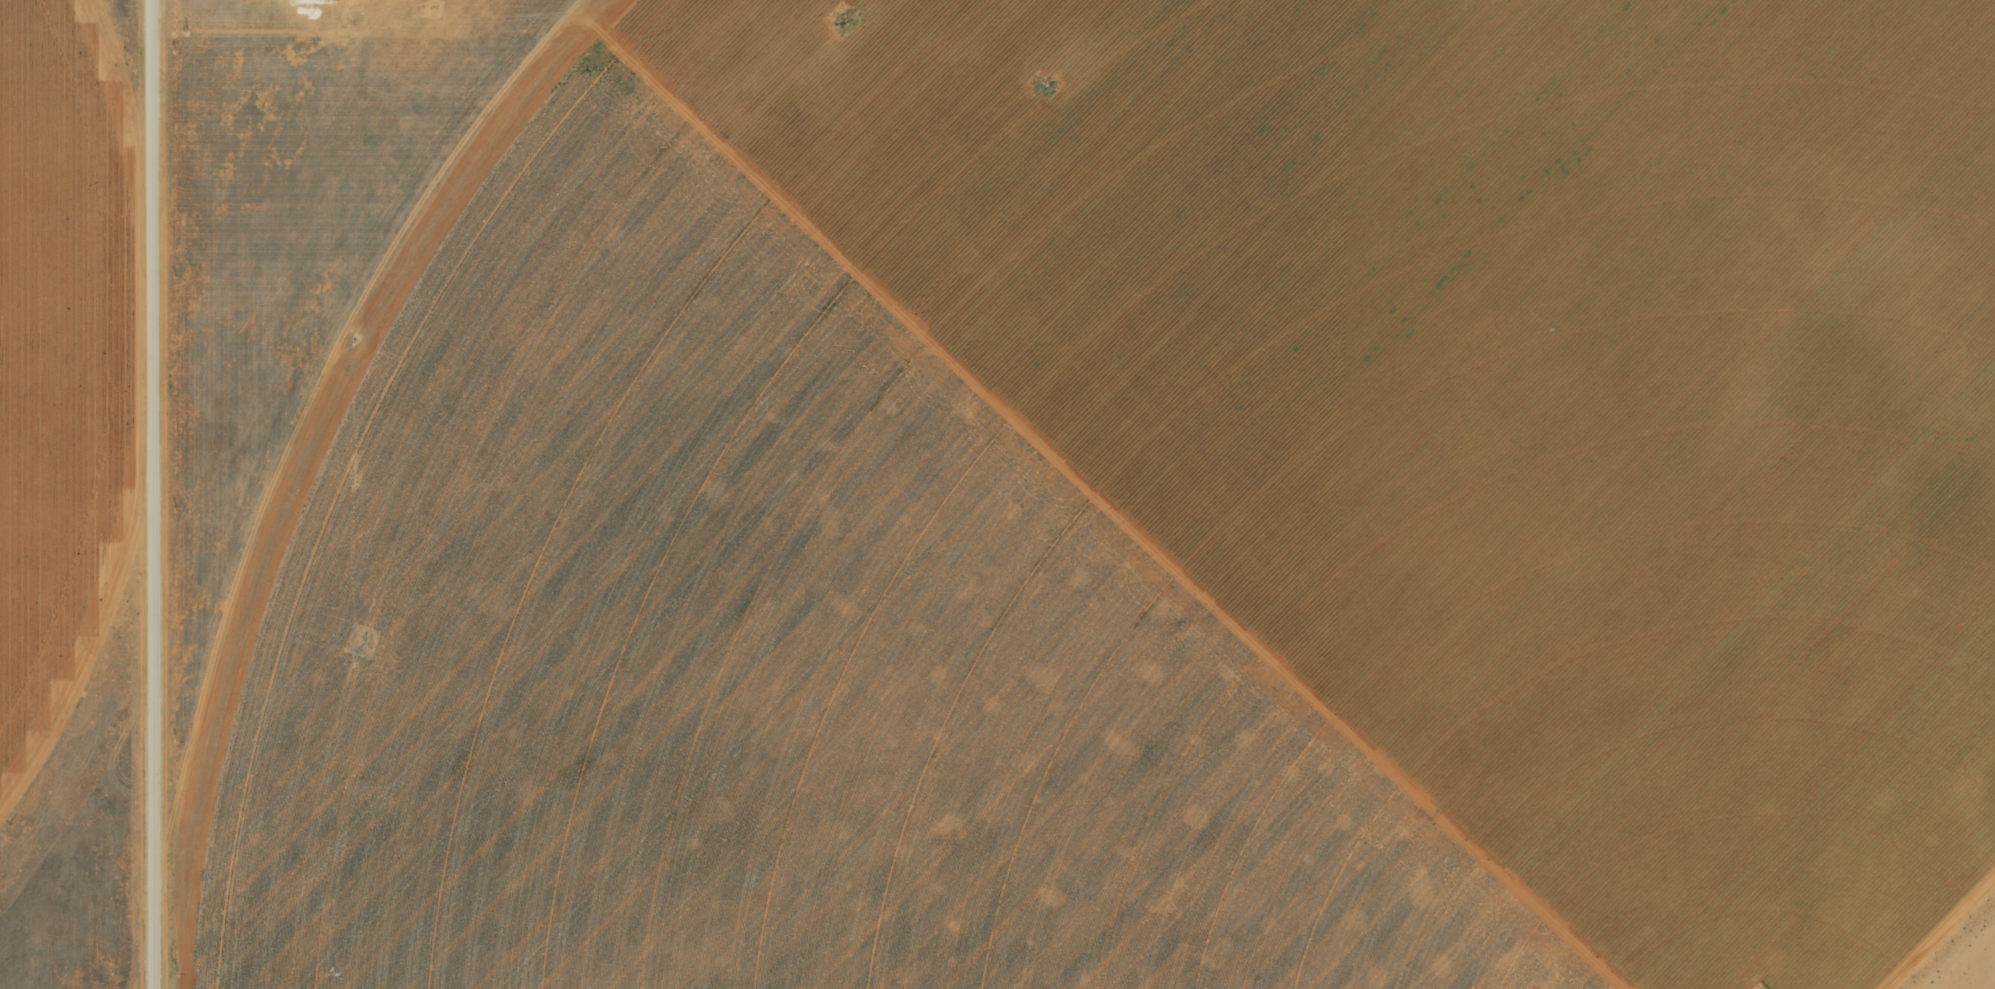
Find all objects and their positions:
road: (144, 494)

